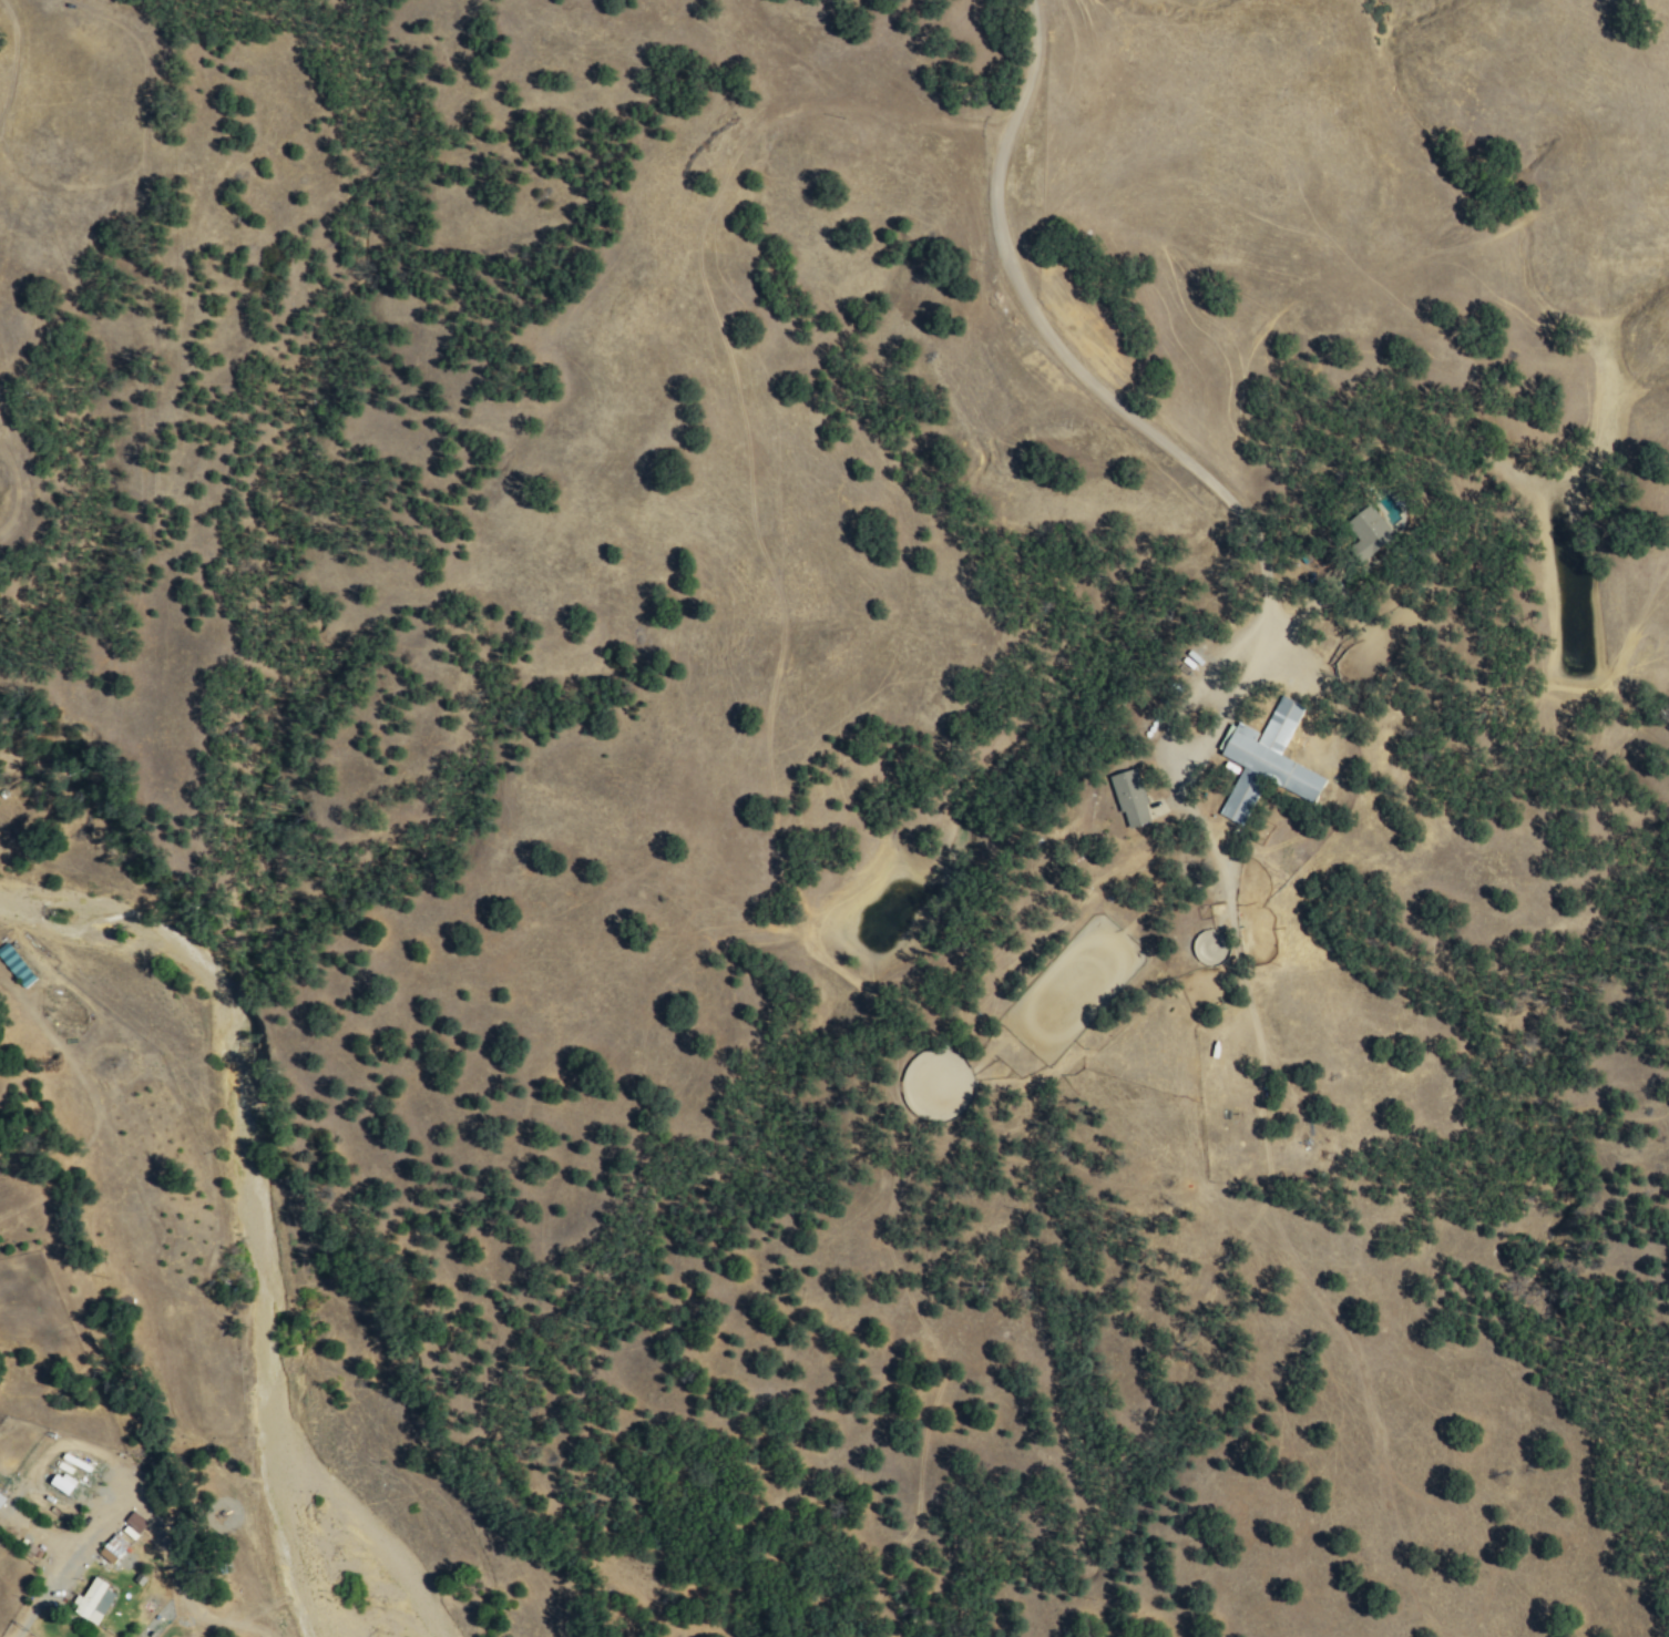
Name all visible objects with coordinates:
road: (1068, 355)
building: (1370, 532)
road: (1297, 617)
building: (1266, 761)
building: (1129, 798)
river: (124, 917)
building: (14, 965)
river: (269, 1333)
building: (59, 1485)
building: (1, 1500)
building: (112, 1548)
building: (94, 1603)

